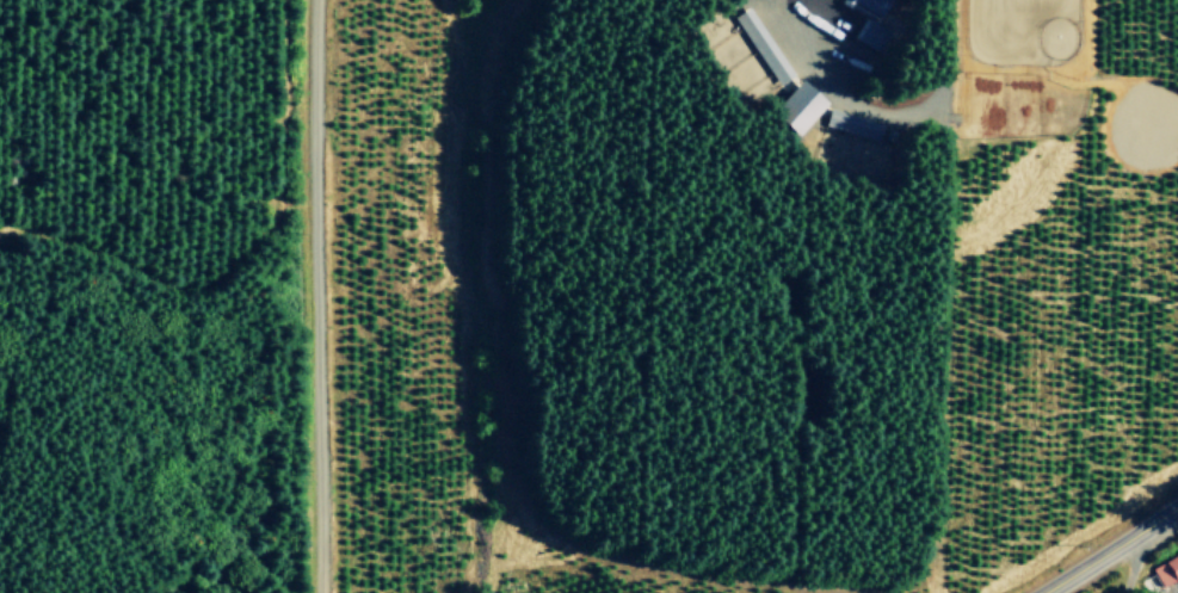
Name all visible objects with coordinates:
building: (868, 5)
building: (870, 35)
building: (761, 44)
building: (742, 57)
building: (800, 105)
building: (851, 124)
road: (314, 296)
crop: (723, 296)
road: (1109, 550)
building: (1165, 569)

